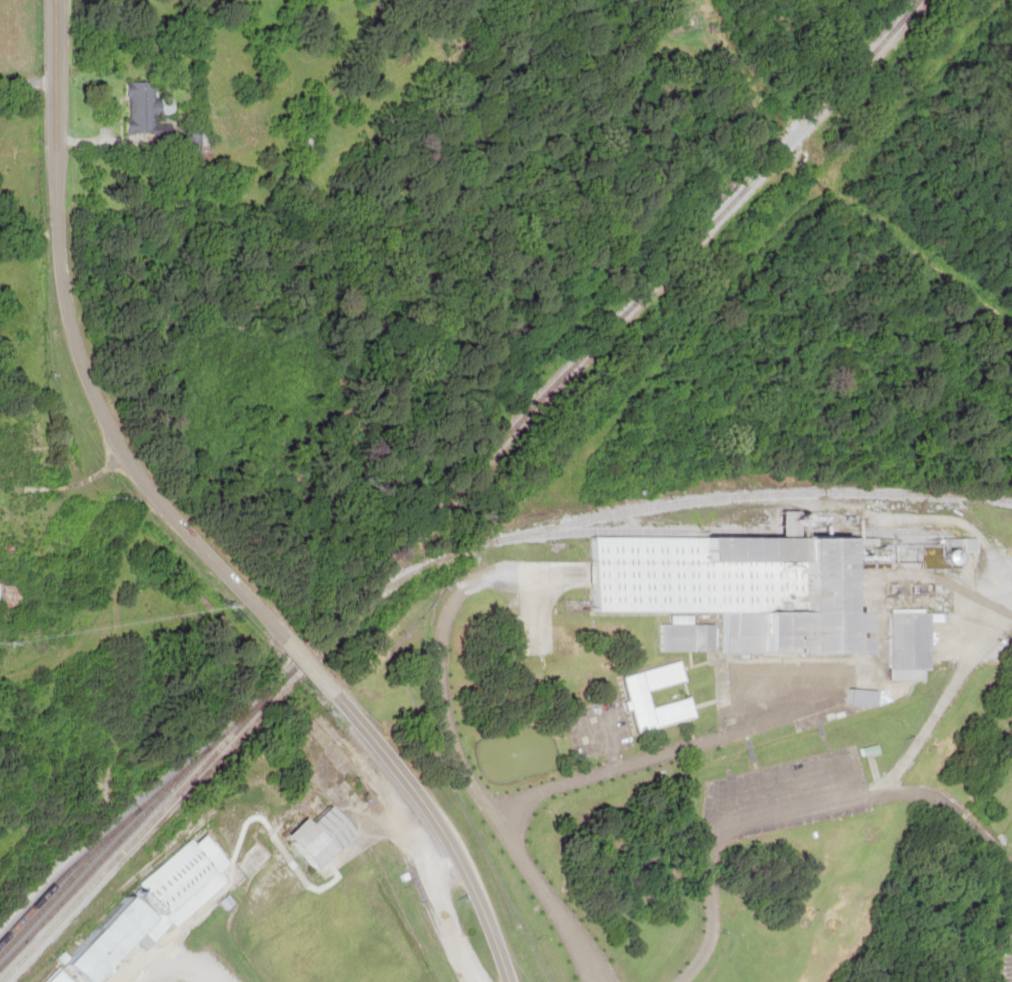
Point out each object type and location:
road: (26, 82)
building: (144, 106)
building: (307, 142)
road: (74, 351)
building: (14, 452)
railway: (455, 494)
building: (752, 588)
building: (10, 598)
building: (687, 635)
building: (914, 643)
road: (309, 665)
building: (639, 693)
building: (868, 697)
building: (875, 751)
railway: (125, 815)
road: (440, 827)
building: (305, 828)
building: (154, 908)
road: (169, 966)
building: (61, 978)

